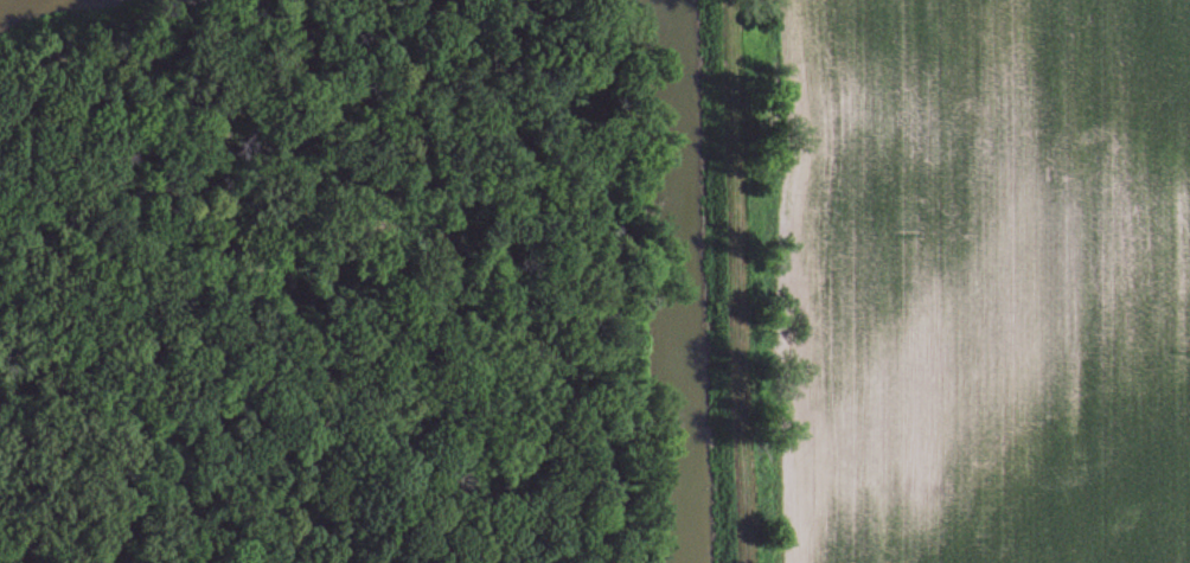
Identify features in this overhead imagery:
crop: (981, 279)

